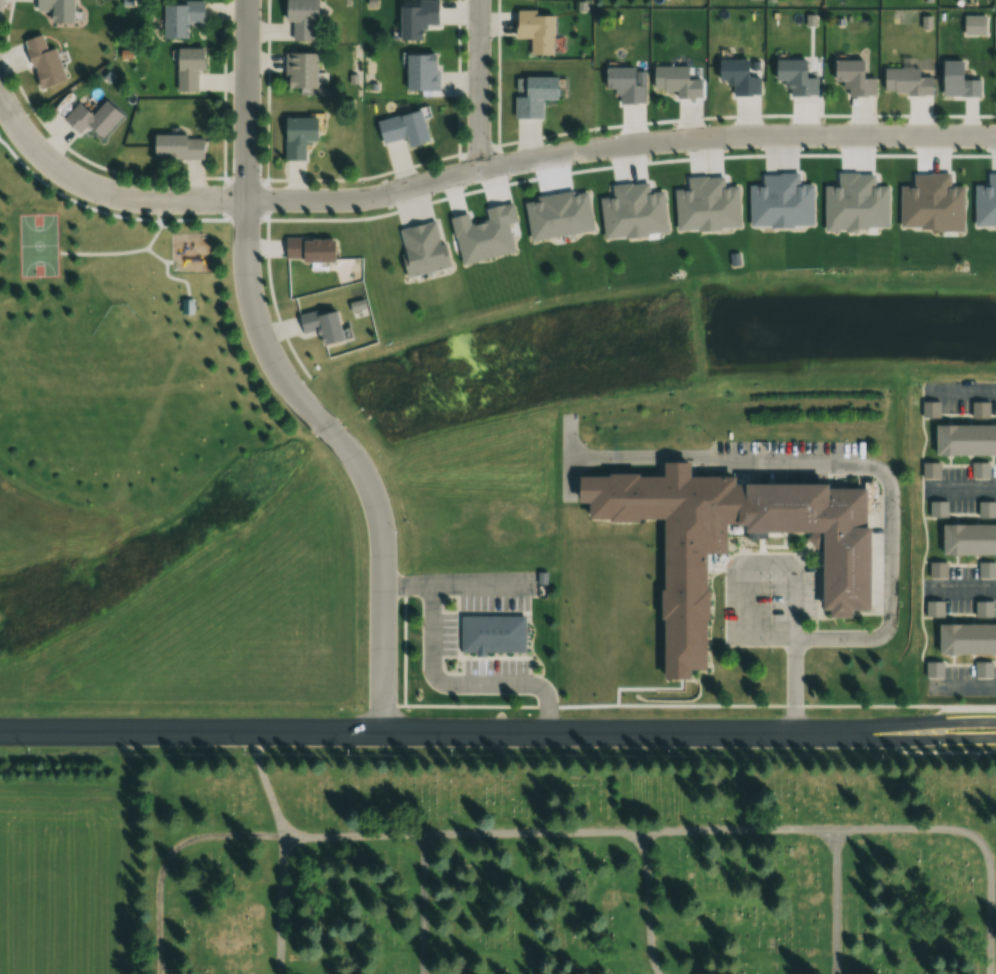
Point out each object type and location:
building: (56, 9)
building: (180, 17)
building: (417, 18)
building: (300, 19)
building: (535, 30)
building: (43, 62)
building: (188, 68)
building: (301, 70)
building: (421, 72)
building: (737, 76)
building: (795, 77)
building: (853, 78)
building: (676, 81)
building: (906, 81)
building: (957, 81)
road: (478, 84)
building: (624, 85)
building: (533, 95)
building: (62, 106)
building: (93, 119)
building: (402, 129)
building: (299, 136)
road: (619, 143)
building: (178, 146)
road: (105, 190)
park: (39, 243)
building: (421, 247)
building: (308, 249)
building: (186, 305)
building: (320, 325)
park: (120, 342)
road: (284, 379)
road: (961, 391)
building: (964, 441)
road: (867, 466)
road: (960, 490)
building: (813, 533)
building: (971, 534)
building: (937, 569)
building: (986, 569)
road: (794, 580)
road: (961, 591)
road: (746, 599)
building: (983, 609)
building: (491, 633)
building: (966, 638)
road: (770, 639)
building: (934, 669)
building: (983, 669)
road: (794, 687)
road: (961, 688)
road: (938, 726)
road: (130, 731)
road: (570, 734)
road: (938, 736)
street lamp: (31, 749)
street lamp: (245, 750)
road: (266, 785)
road: (738, 830)
road: (532, 832)
road: (353, 835)
road: (974, 837)
road: (169, 856)
road: (527, 865)
park: (566, 866)
road: (476, 897)
road: (835, 901)
road: (650, 903)
road: (423, 904)
road: (282, 905)
road: (527, 927)
road: (589, 954)
road: (475, 956)
road: (352, 957)
road: (527, 965)

